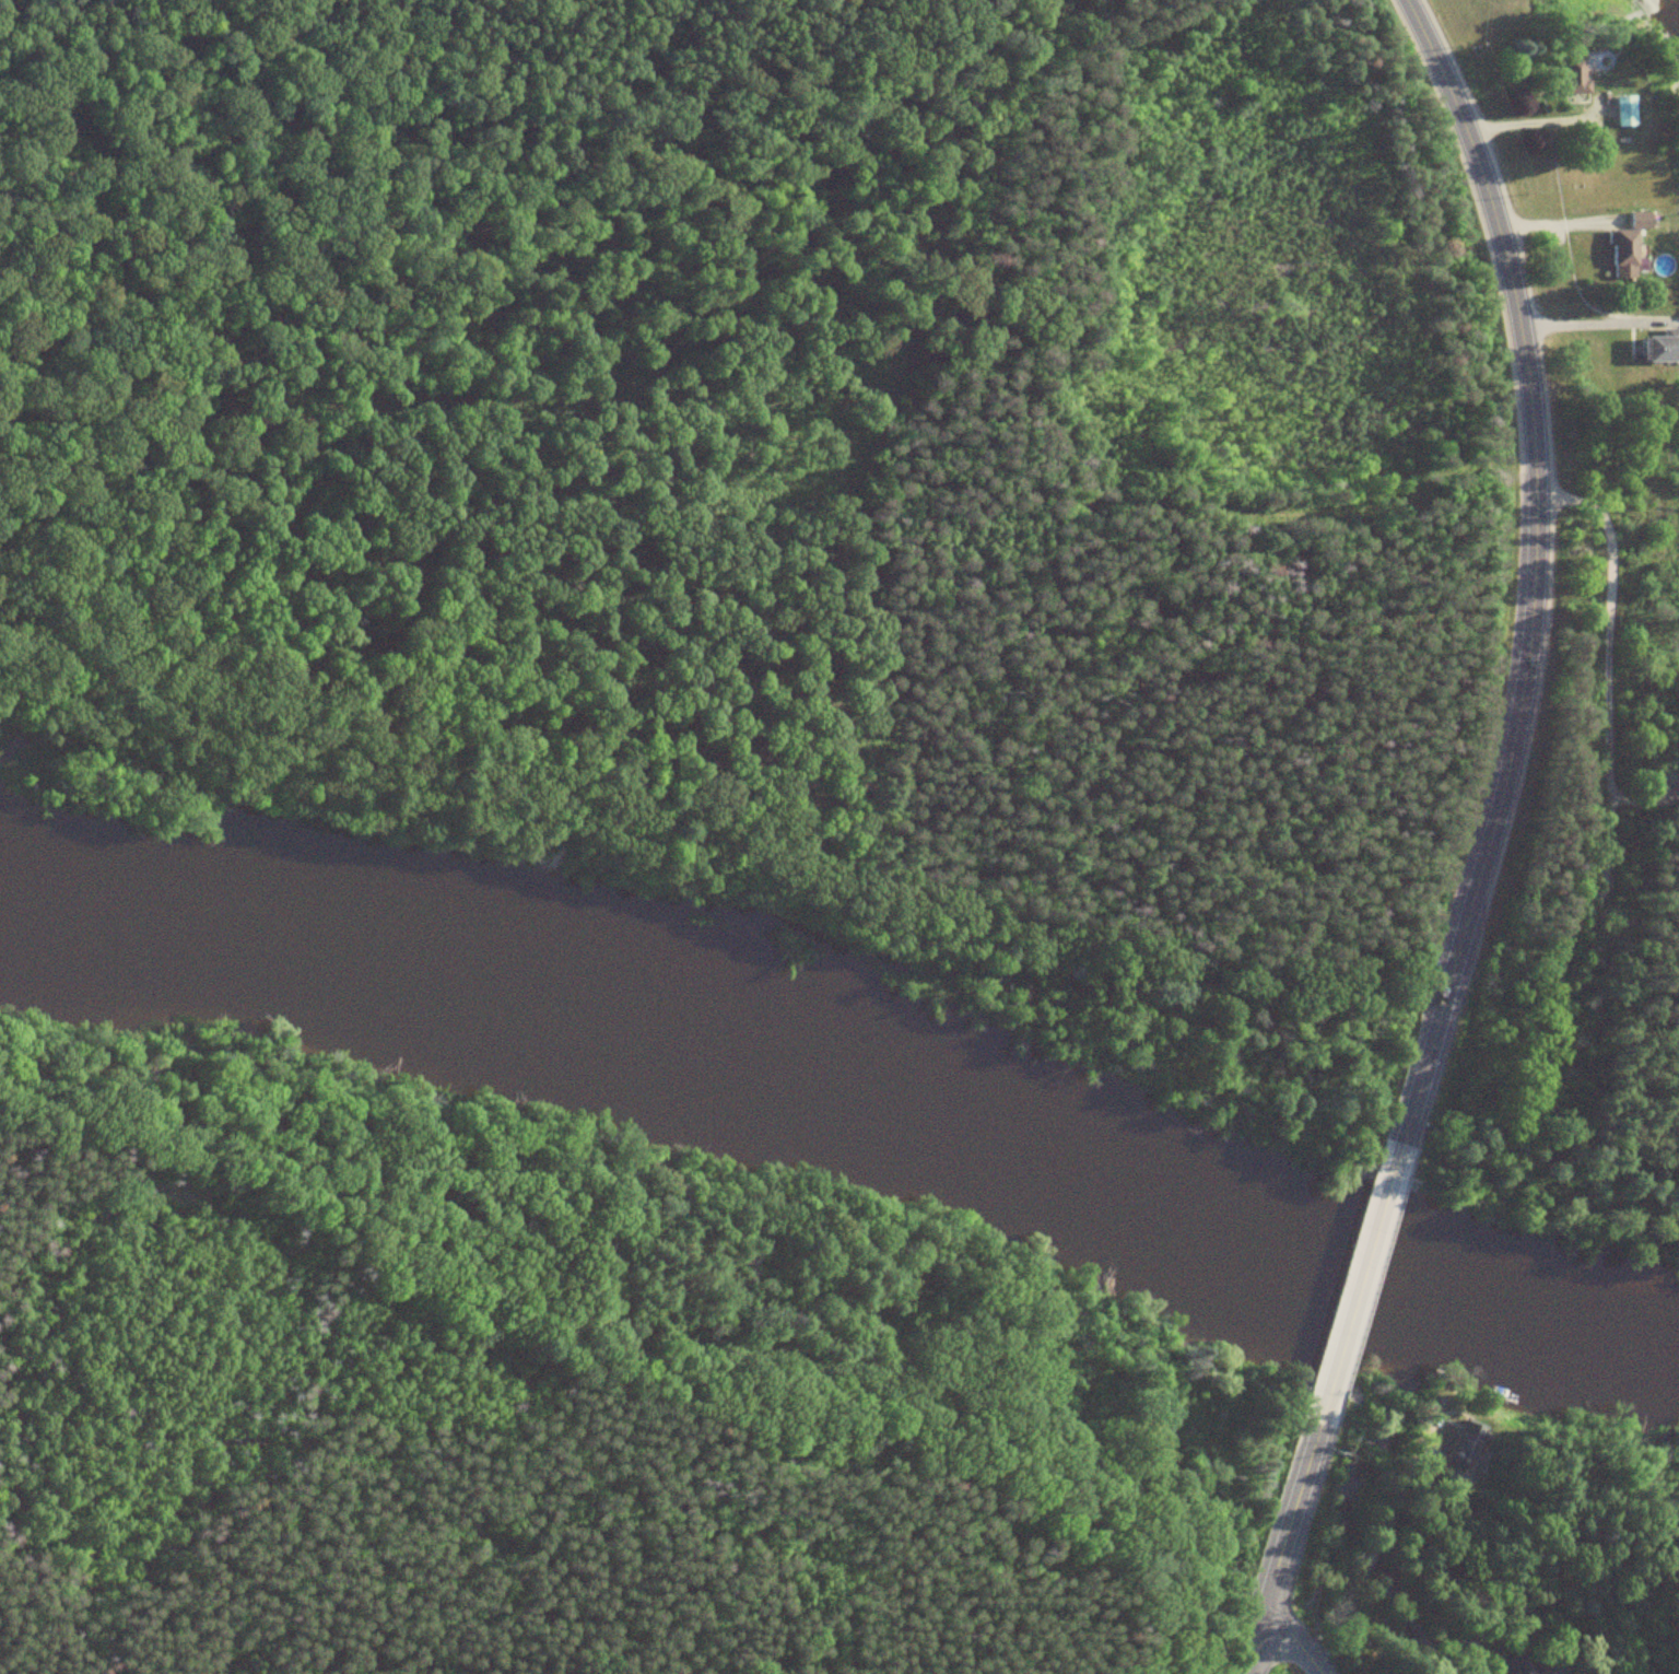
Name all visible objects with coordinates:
building: (1627, 109)
building: (1641, 218)
building: (1624, 250)
building: (1660, 347)
road: (1607, 553)
road: (1529, 573)
river: (846, 1092)
road: (1359, 1284)
building: (1468, 1443)
road: (1287, 1544)
road: (1288, 1640)
building: (1514, 1665)
building: (1553, 1672)

